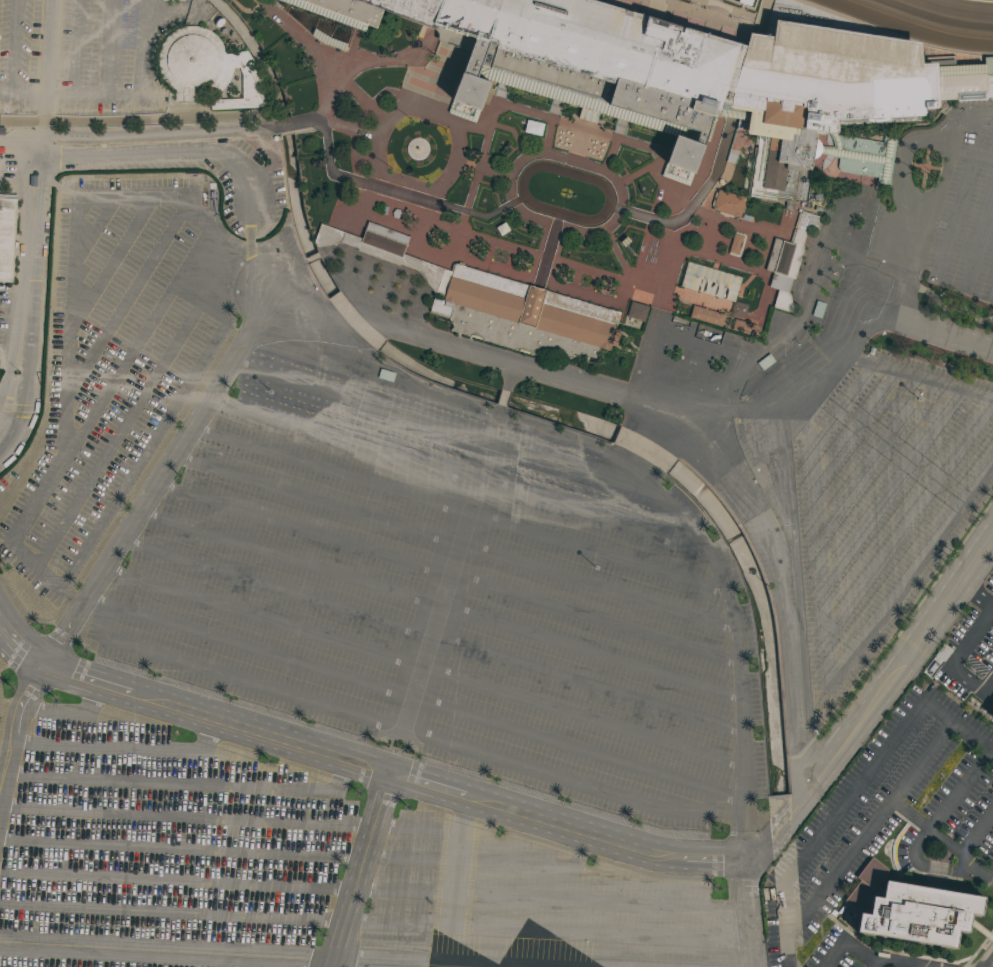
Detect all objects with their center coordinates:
track: (929, 19)
road: (15, 46)
road: (74, 47)
road: (107, 48)
building: (207, 69)
building: (672, 74)
road: (22, 92)
road: (136, 94)
building: (430, 94)
road: (137, 118)
road: (290, 124)
road: (18, 144)
road: (171, 151)
road: (900, 156)
road: (959, 199)
building: (727, 203)
road: (921, 204)
road: (504, 205)
road: (28, 229)
road: (91, 229)
building: (7, 236)
road: (978, 237)
building: (734, 245)
building: (788, 259)
road: (109, 265)
building: (709, 283)
road: (124, 301)
building: (495, 302)
building: (739, 308)
building: (818, 309)
building: (636, 311)
building: (706, 315)
building: (743, 326)
road: (936, 333)
building: (706, 335)
road: (862, 337)
road: (137, 343)
building: (702, 346)
building: (765, 361)
road: (918, 381)
road: (590, 384)
road: (351, 404)
road: (839, 409)
road: (905, 410)
road: (129, 416)
road: (851, 431)
road: (336, 437)
road: (323, 466)
road: (861, 475)
road: (50, 477)
road: (492, 489)
road: (889, 490)
road: (308, 499)
road: (600, 519)
road: (907, 520)
road: (126, 526)
road: (295, 527)
road: (282, 555)
road: (603, 555)
road: (774, 580)
road: (267, 586)
road: (603, 589)
road: (976, 594)
road: (992, 605)
road: (254, 615)
road: (601, 622)
parking lot: (461, 623)
road: (253, 650)
road: (826, 651)
road: (598, 654)
road: (955, 660)
road: (593, 686)
road: (874, 703)
road: (66, 712)
road: (355, 716)
building: (992, 716)
road: (588, 719)
road: (121, 746)
road: (570, 748)
road: (364, 765)
road: (183, 783)
road: (854, 790)
road: (957, 790)
road: (186, 817)
road: (912, 819)
parking lot: (883, 826)
road: (867, 829)
road: (976, 832)
road: (181, 847)
road: (918, 853)
road: (957, 854)
road: (960, 869)
road: (358, 870)
road: (987, 873)
road: (987, 876)
road: (176, 880)
road: (450, 881)
building: (911, 908)
road: (171, 913)
road: (750, 914)
building: (982, 931)
road: (982, 931)
road: (165, 952)
road: (860, 953)
road: (412, 963)
road: (873, 964)

